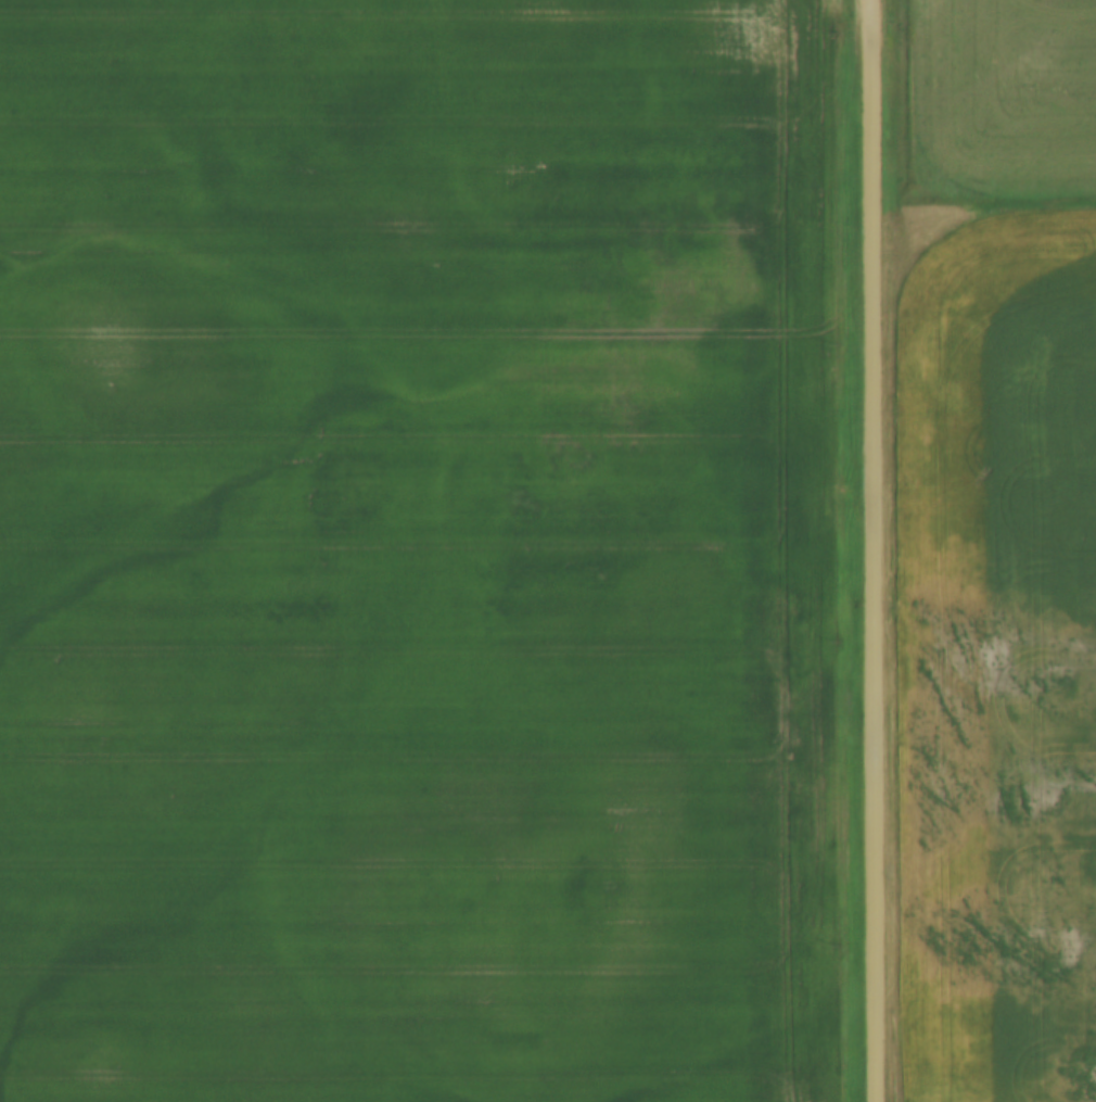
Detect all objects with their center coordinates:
road: (881, 550)

